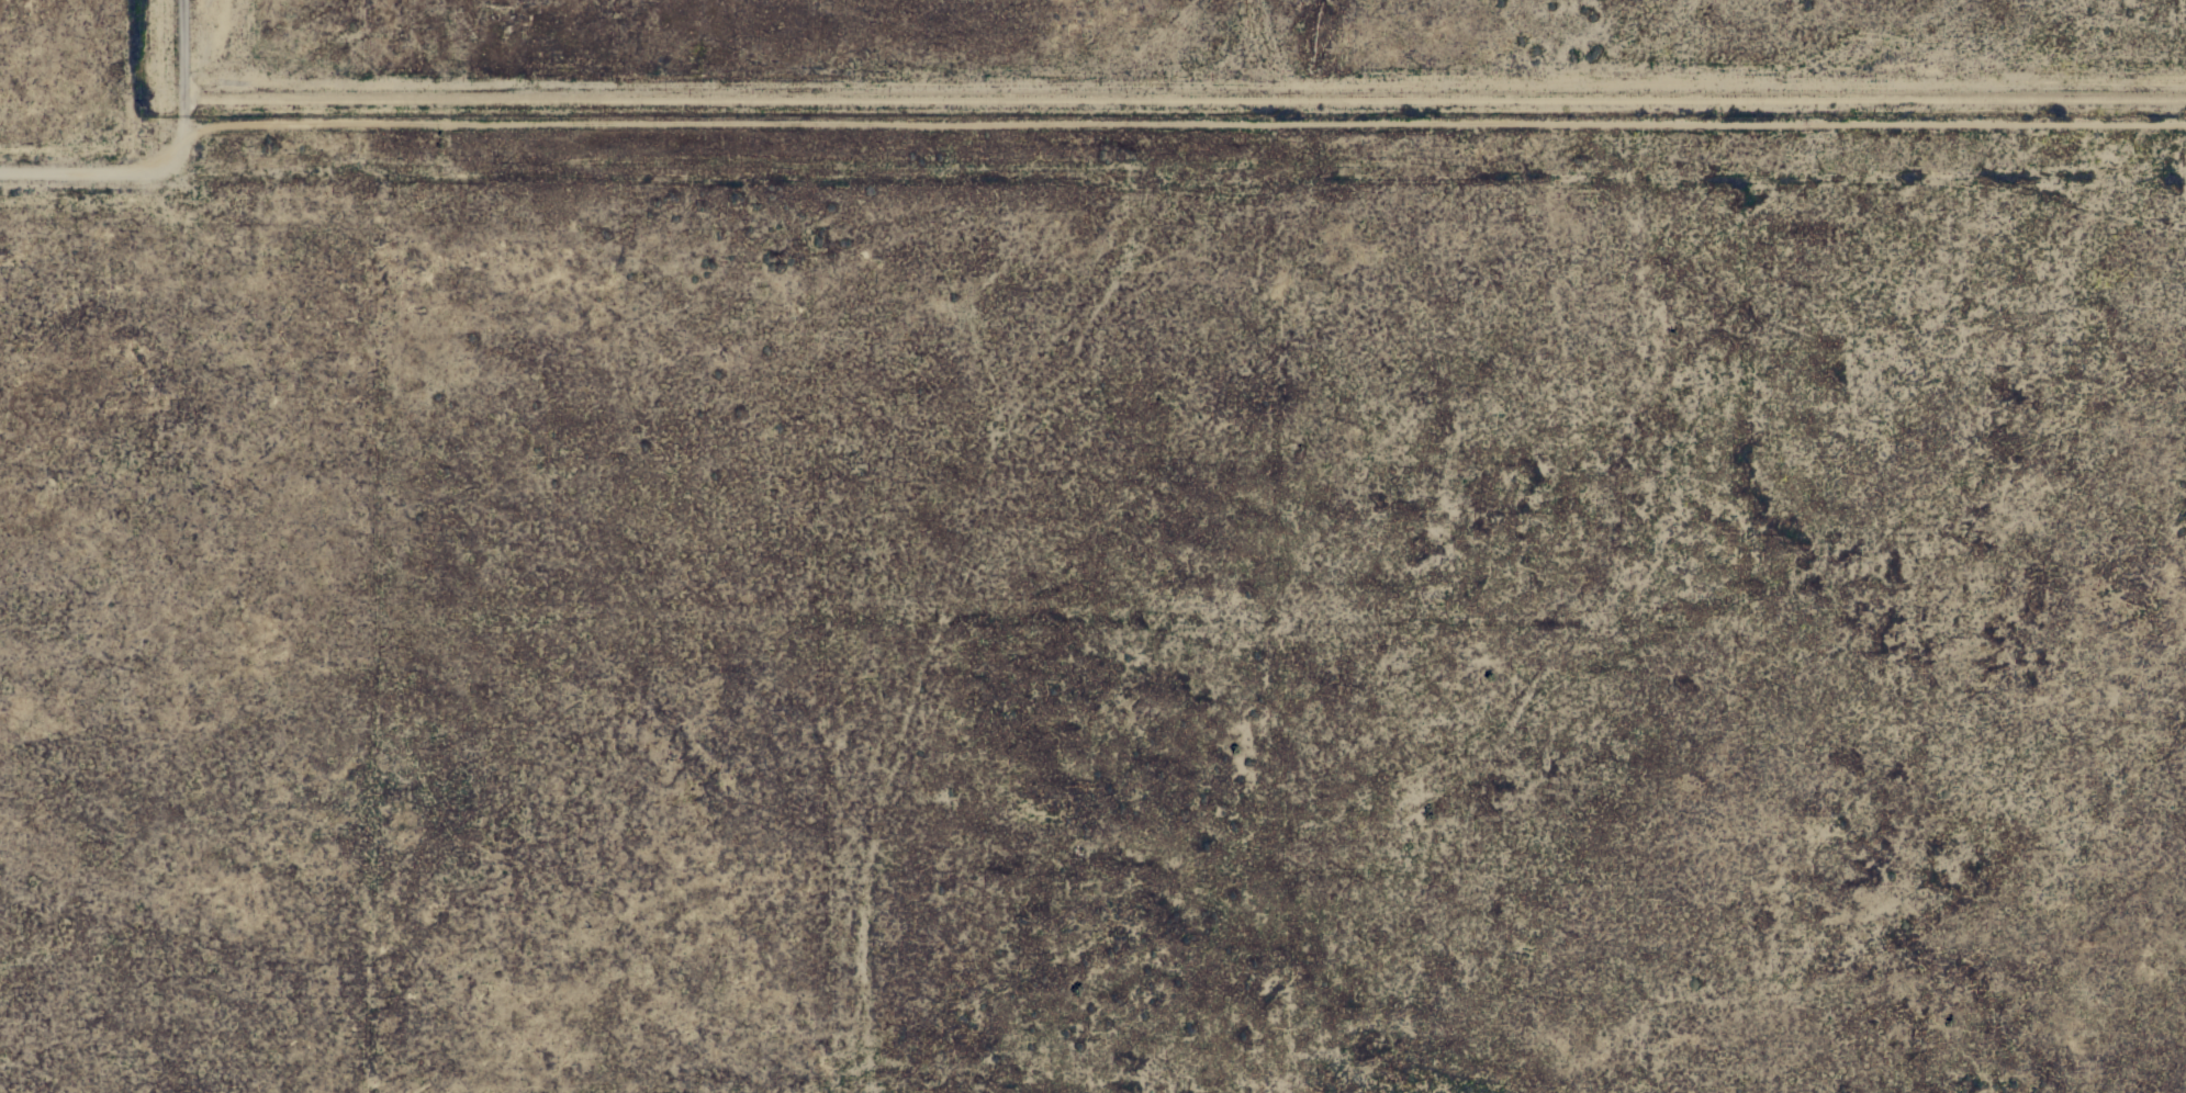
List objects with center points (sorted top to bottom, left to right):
road: (1187, 125)
road: (175, 170)

